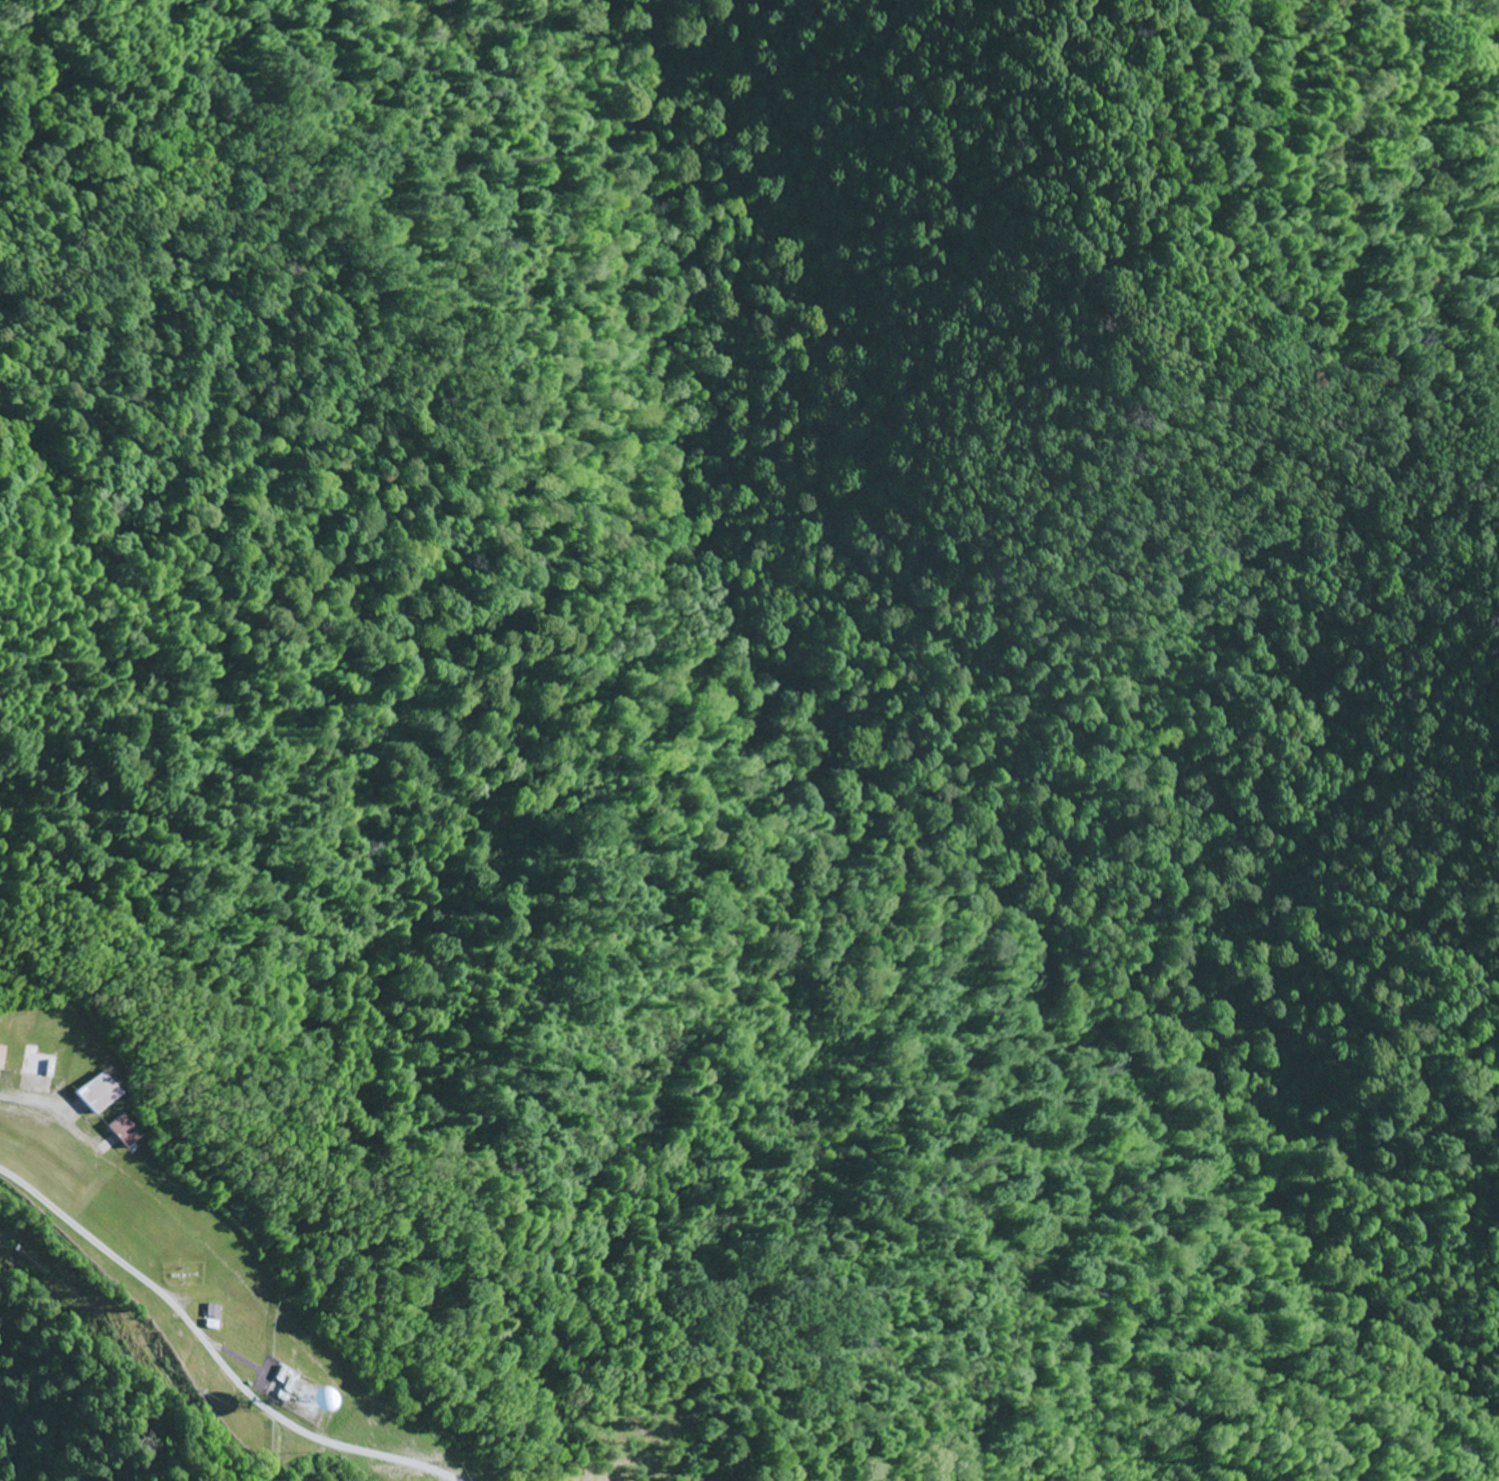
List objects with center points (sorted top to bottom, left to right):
building: (6, 1058)
airport: (156, 1235)

